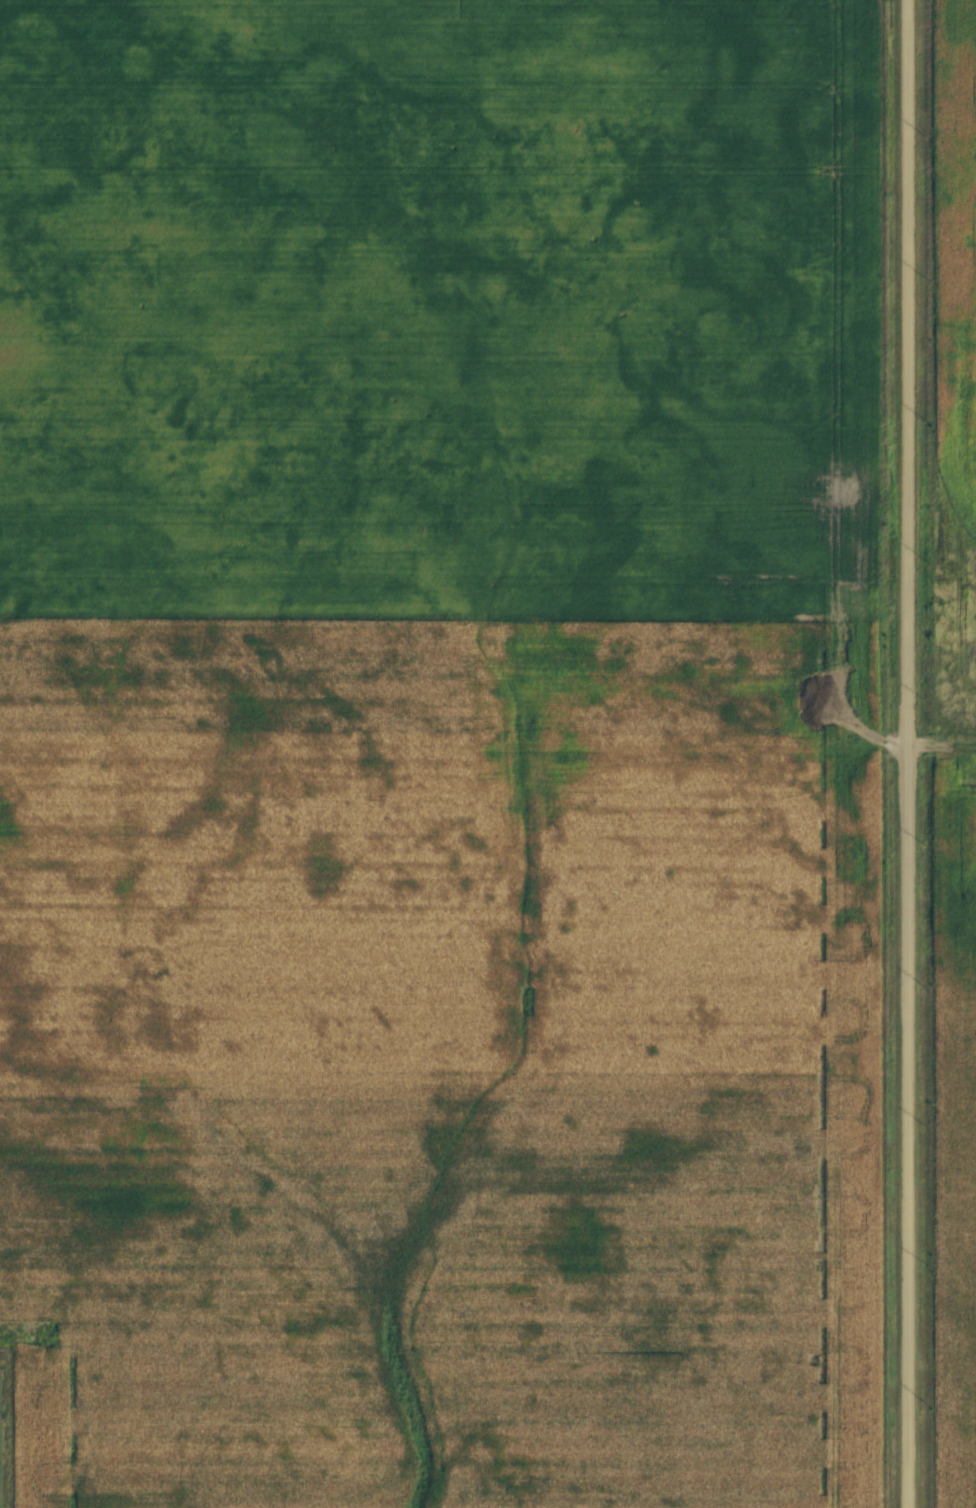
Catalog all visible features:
road: (907, 754)

